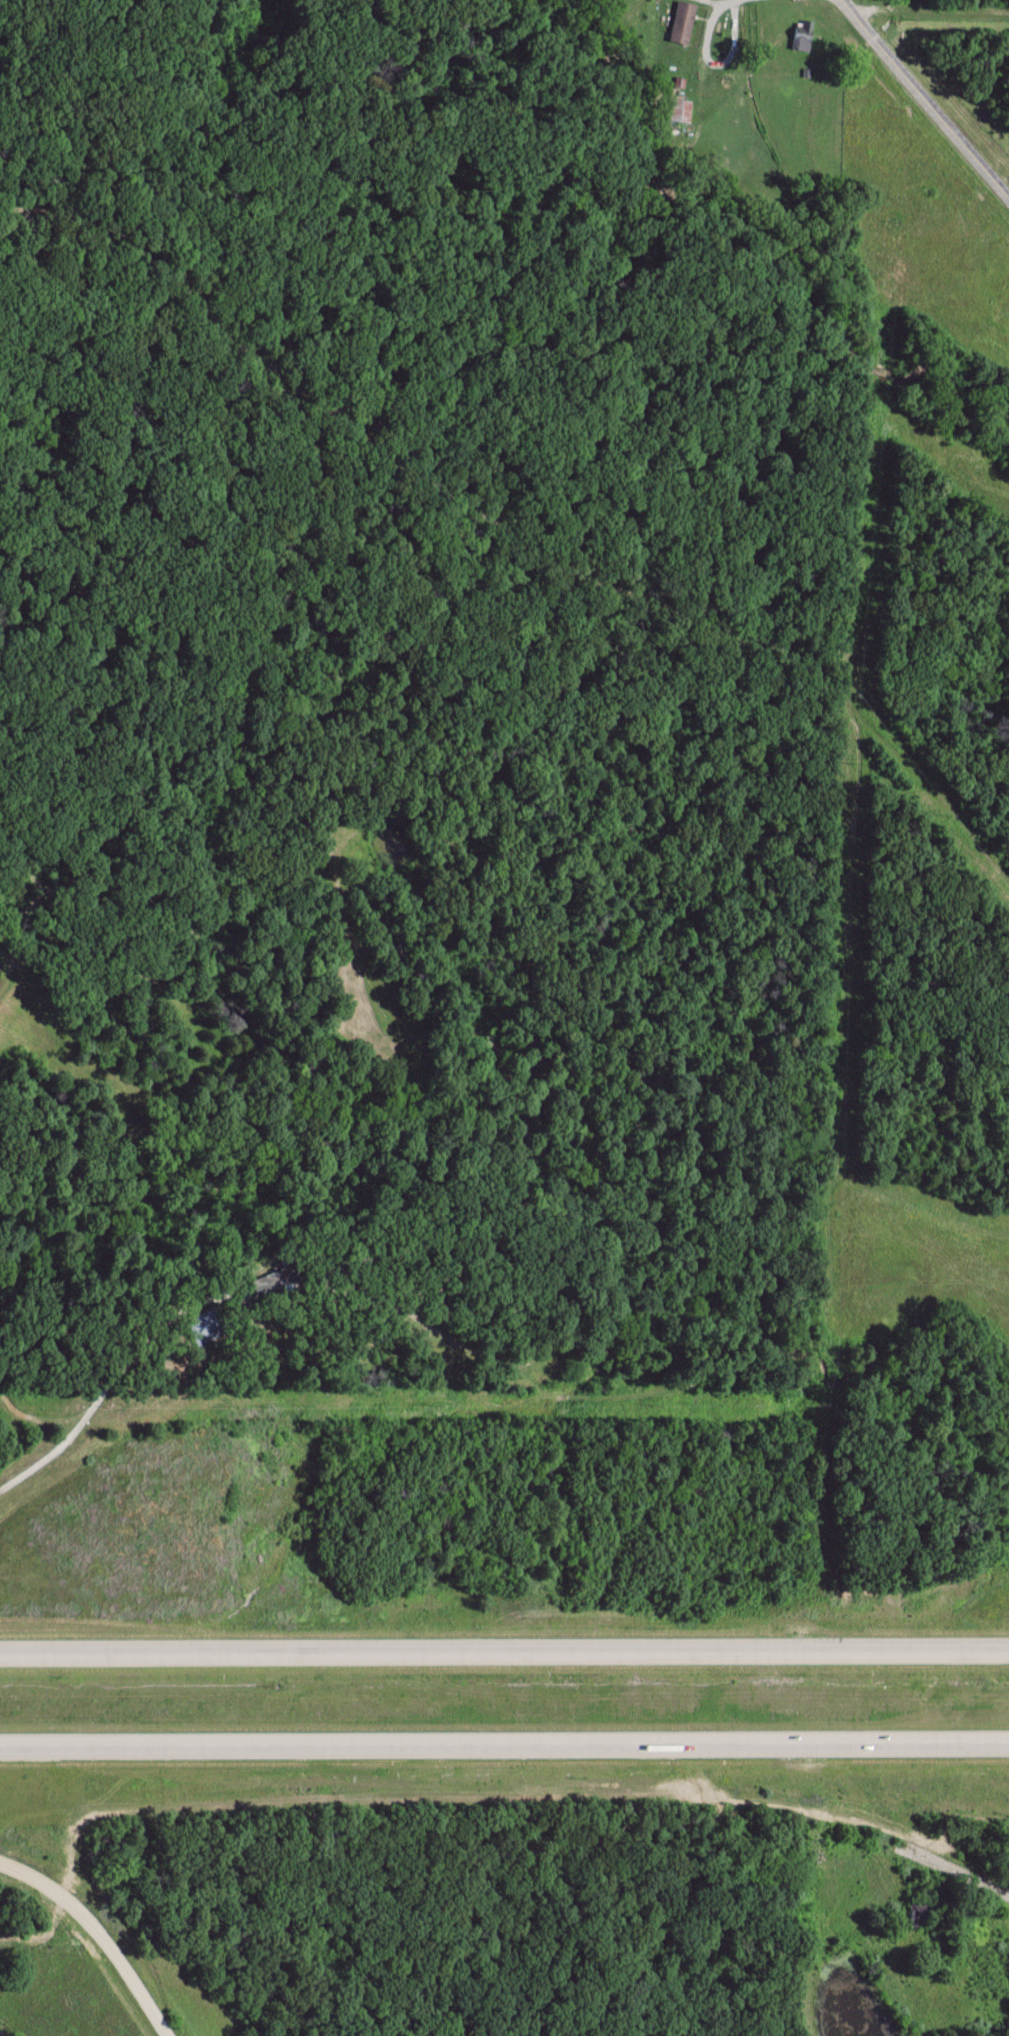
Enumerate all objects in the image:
road: (950, 57)
road: (924, 96)
building: (682, 111)
building: (282, 1281)
building: (209, 1328)
road: (68, 1446)
road: (504, 1655)
road: (504, 1742)
road: (847, 1827)
road: (99, 1930)

